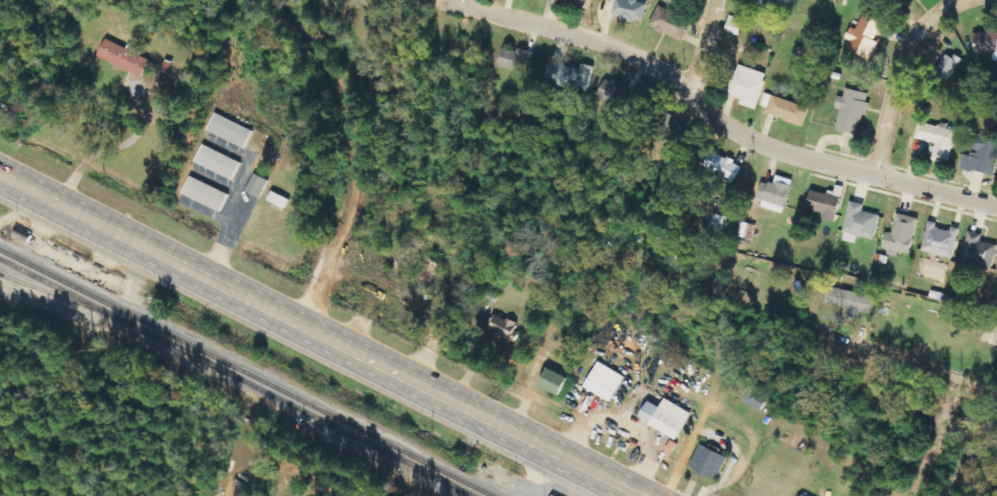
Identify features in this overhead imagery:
building: (908, 0)
building: (583, 2)
building: (762, 3)
building: (630, 9)
building: (670, 23)
building: (865, 36)
building: (985, 42)
road: (703, 50)
building: (125, 57)
building: (517, 59)
building: (948, 66)
building: (572, 75)
road: (894, 76)
building: (748, 86)
building: (614, 92)
building: (788, 110)
building: (852, 110)
road: (717, 118)
building: (229, 130)
building: (673, 132)
building: (938, 140)
building: (982, 155)
building: (218, 161)
building: (723, 166)
building: (257, 185)
building: (205, 193)
building: (774, 193)
building: (824, 204)
building: (860, 223)
building: (722, 225)
building: (901, 235)
building: (941, 240)
building: (979, 250)
railway: (55, 294)
building: (852, 301)
building: (505, 327)
road: (326, 333)
railway: (247, 372)
railway: (237, 376)
building: (554, 382)
building: (604, 382)
building: (753, 402)
building: (666, 417)
road: (829, 430)
road: (971, 447)
building: (708, 461)
road: (282, 481)
railway: (460, 490)
building: (553, 495)

